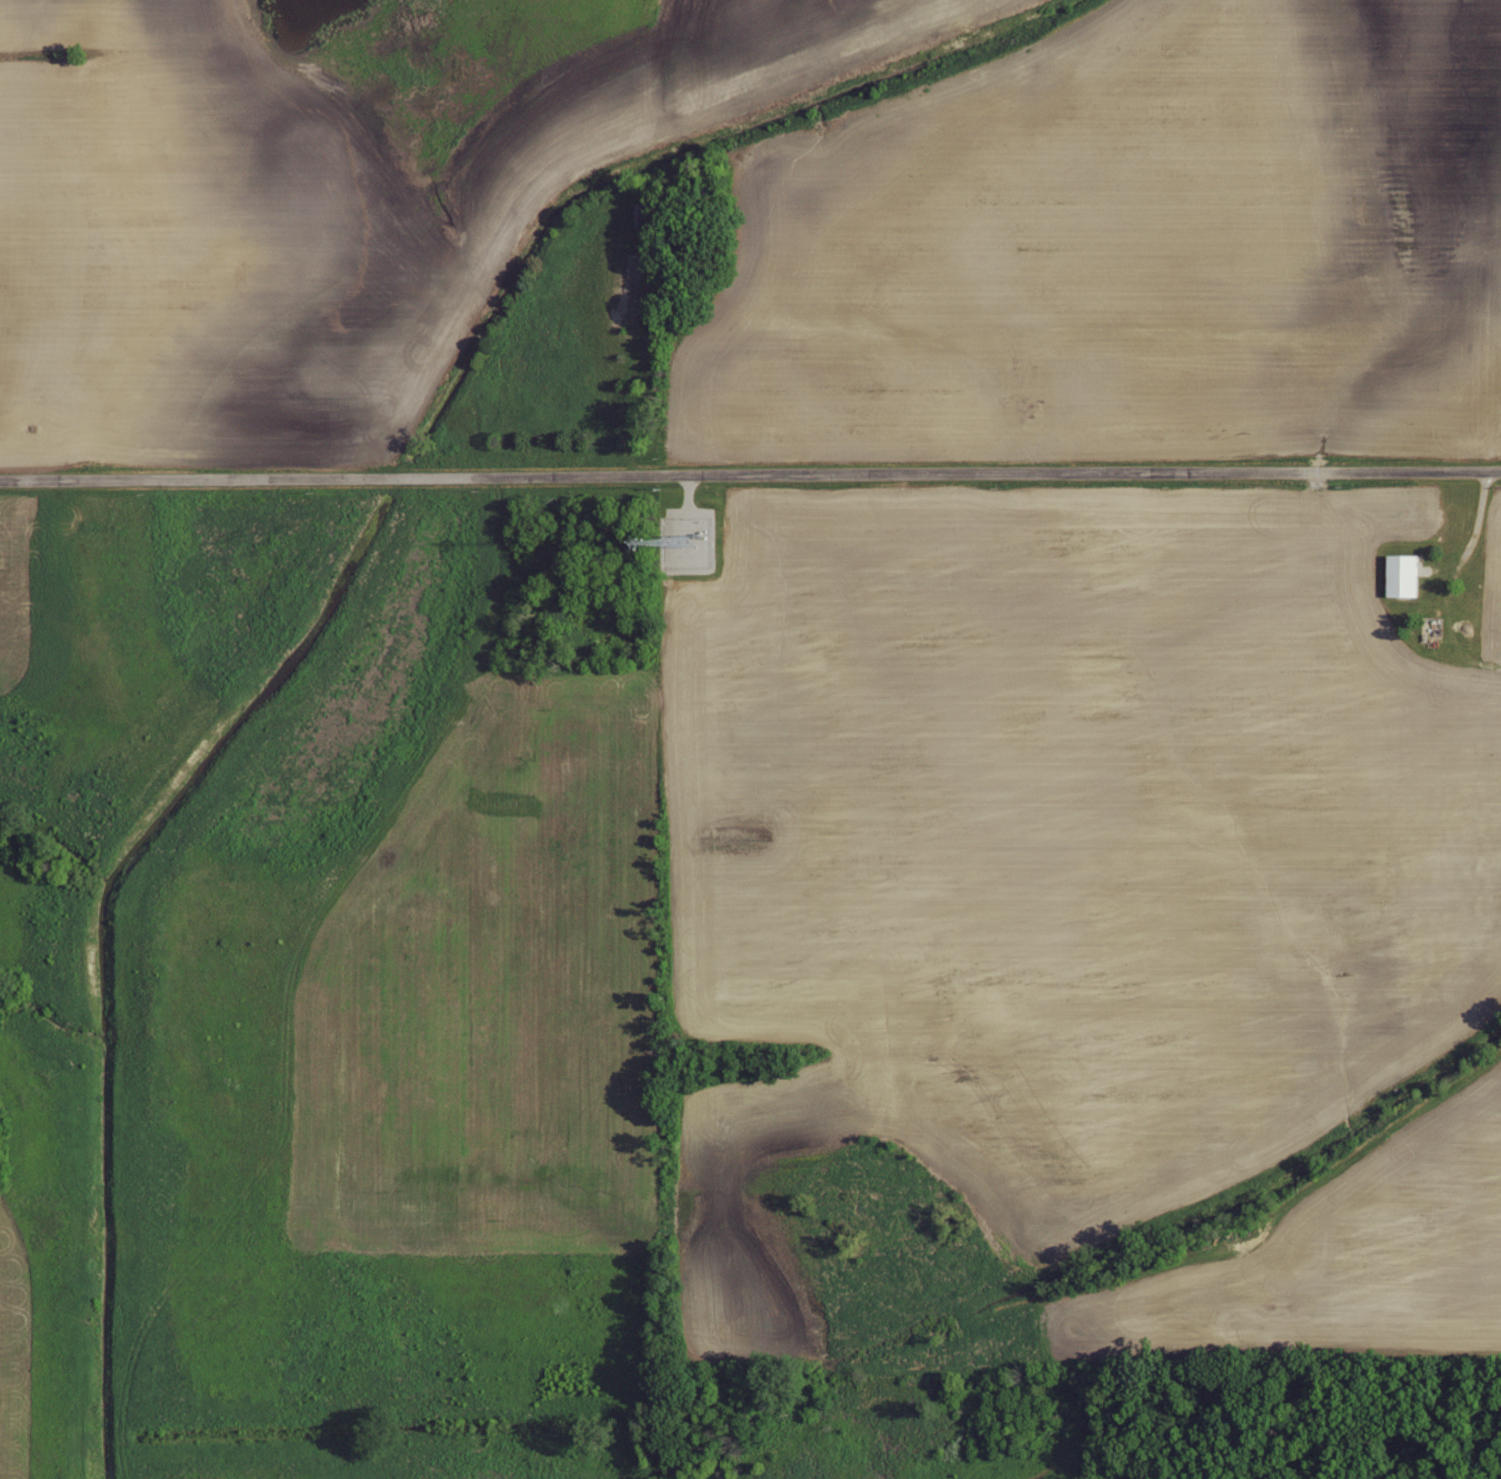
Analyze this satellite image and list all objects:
crop: (119, 18)
crop: (687, 56)
crop: (1116, 247)
crop: (230, 251)
road: (750, 476)
crop: (32, 592)
crop: (1490, 634)
crop: (1066, 834)
crop: (497, 978)
crop: (1340, 1270)

